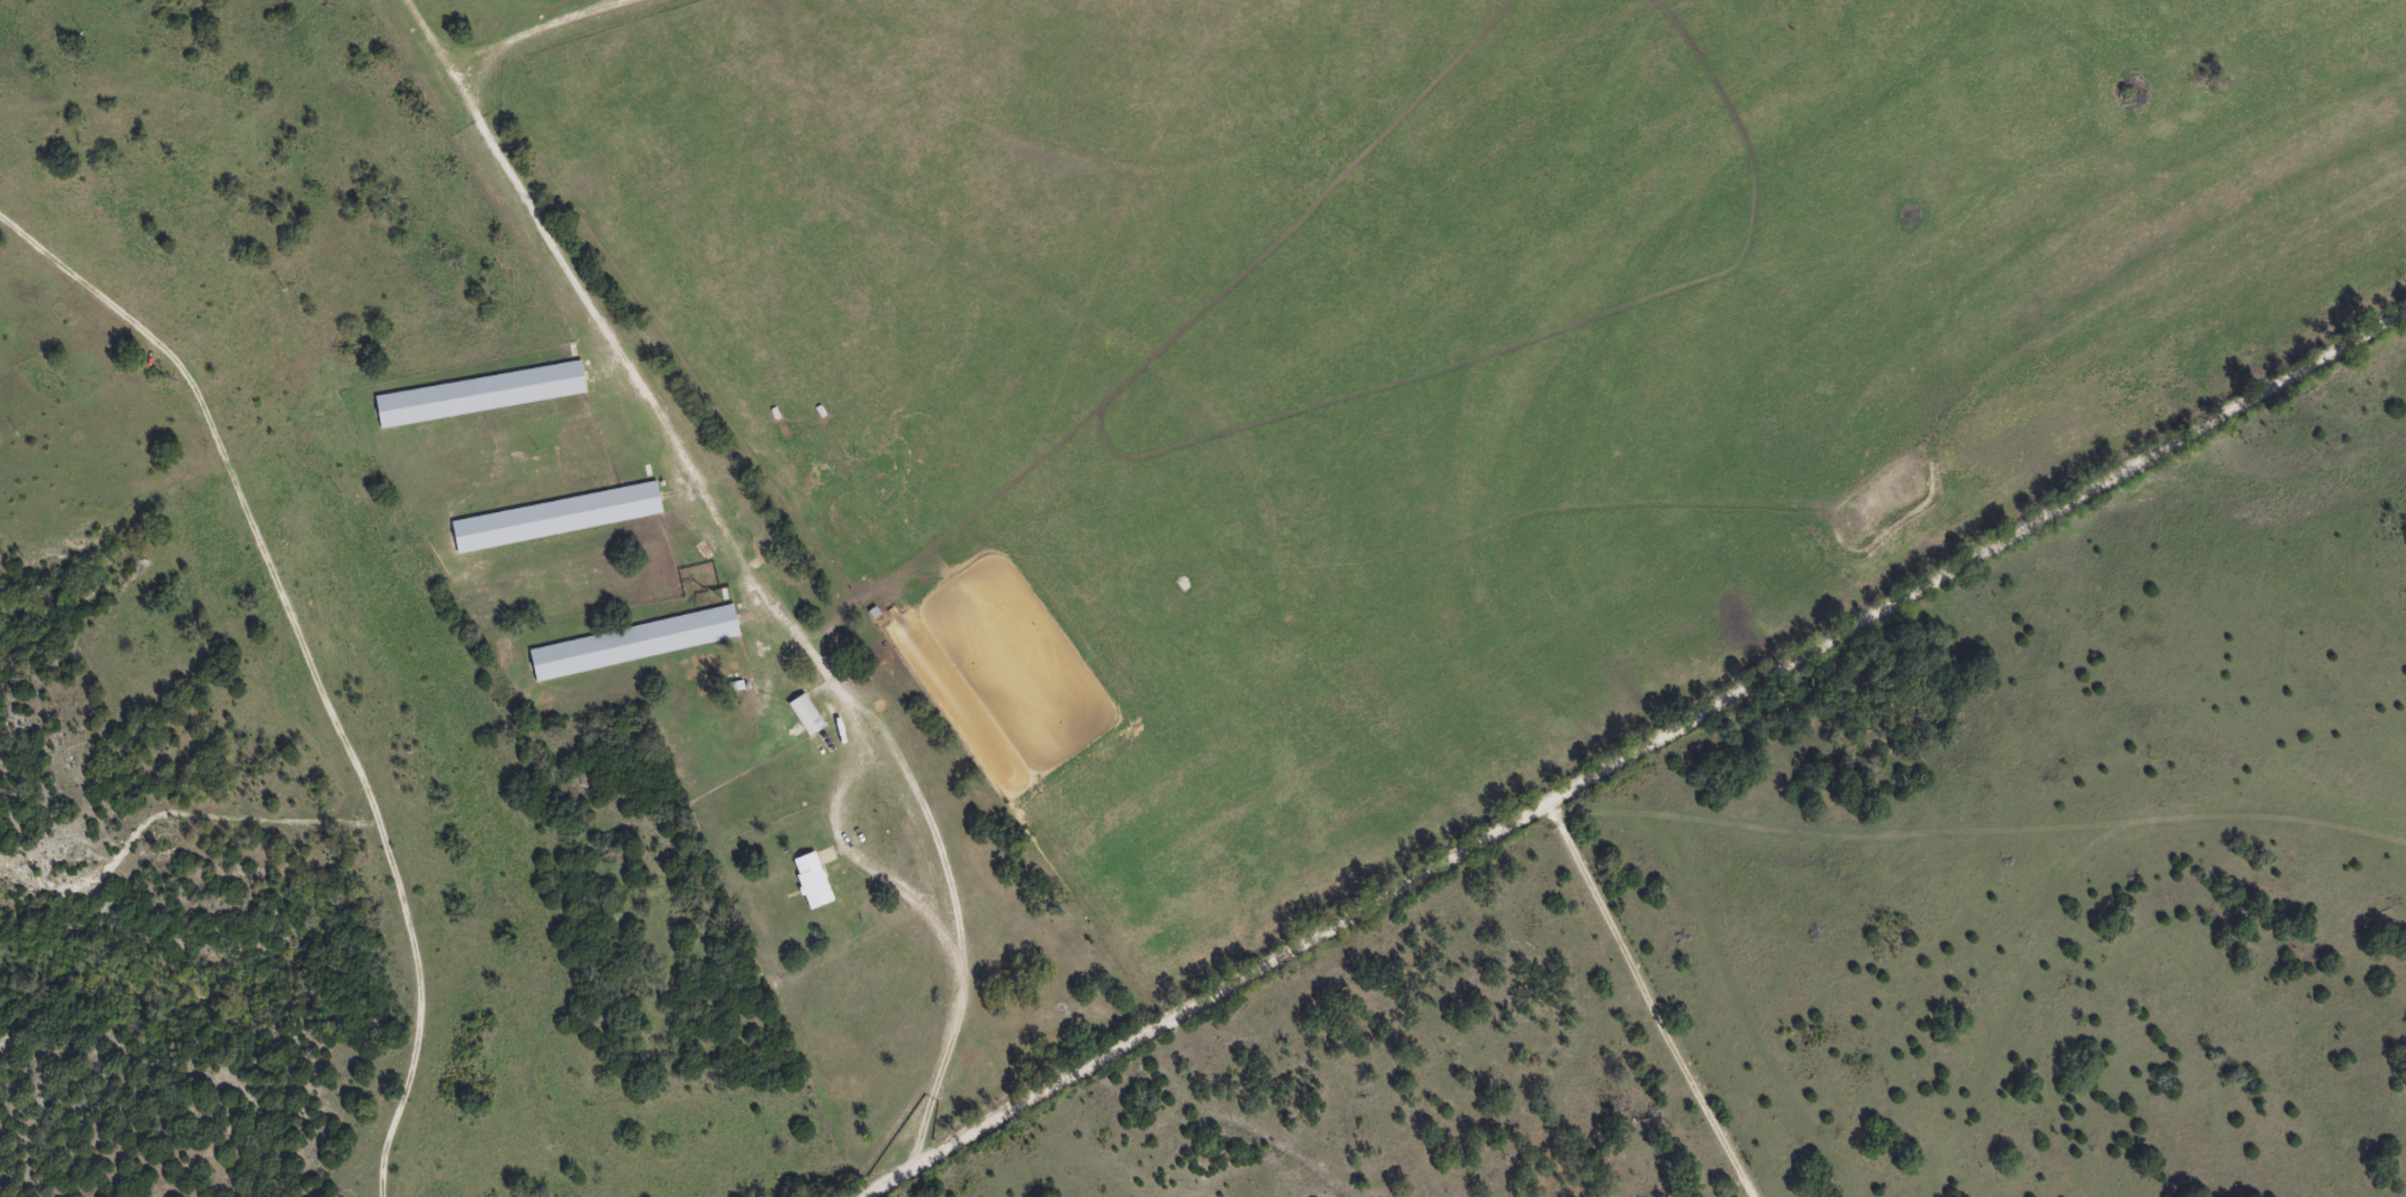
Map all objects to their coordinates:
building: (481, 393)
building: (558, 516)
road: (741, 573)
building: (635, 642)
building: (808, 713)
road: (1629, 752)
road: (2002, 822)
building: (814, 880)
road: (1647, 998)

